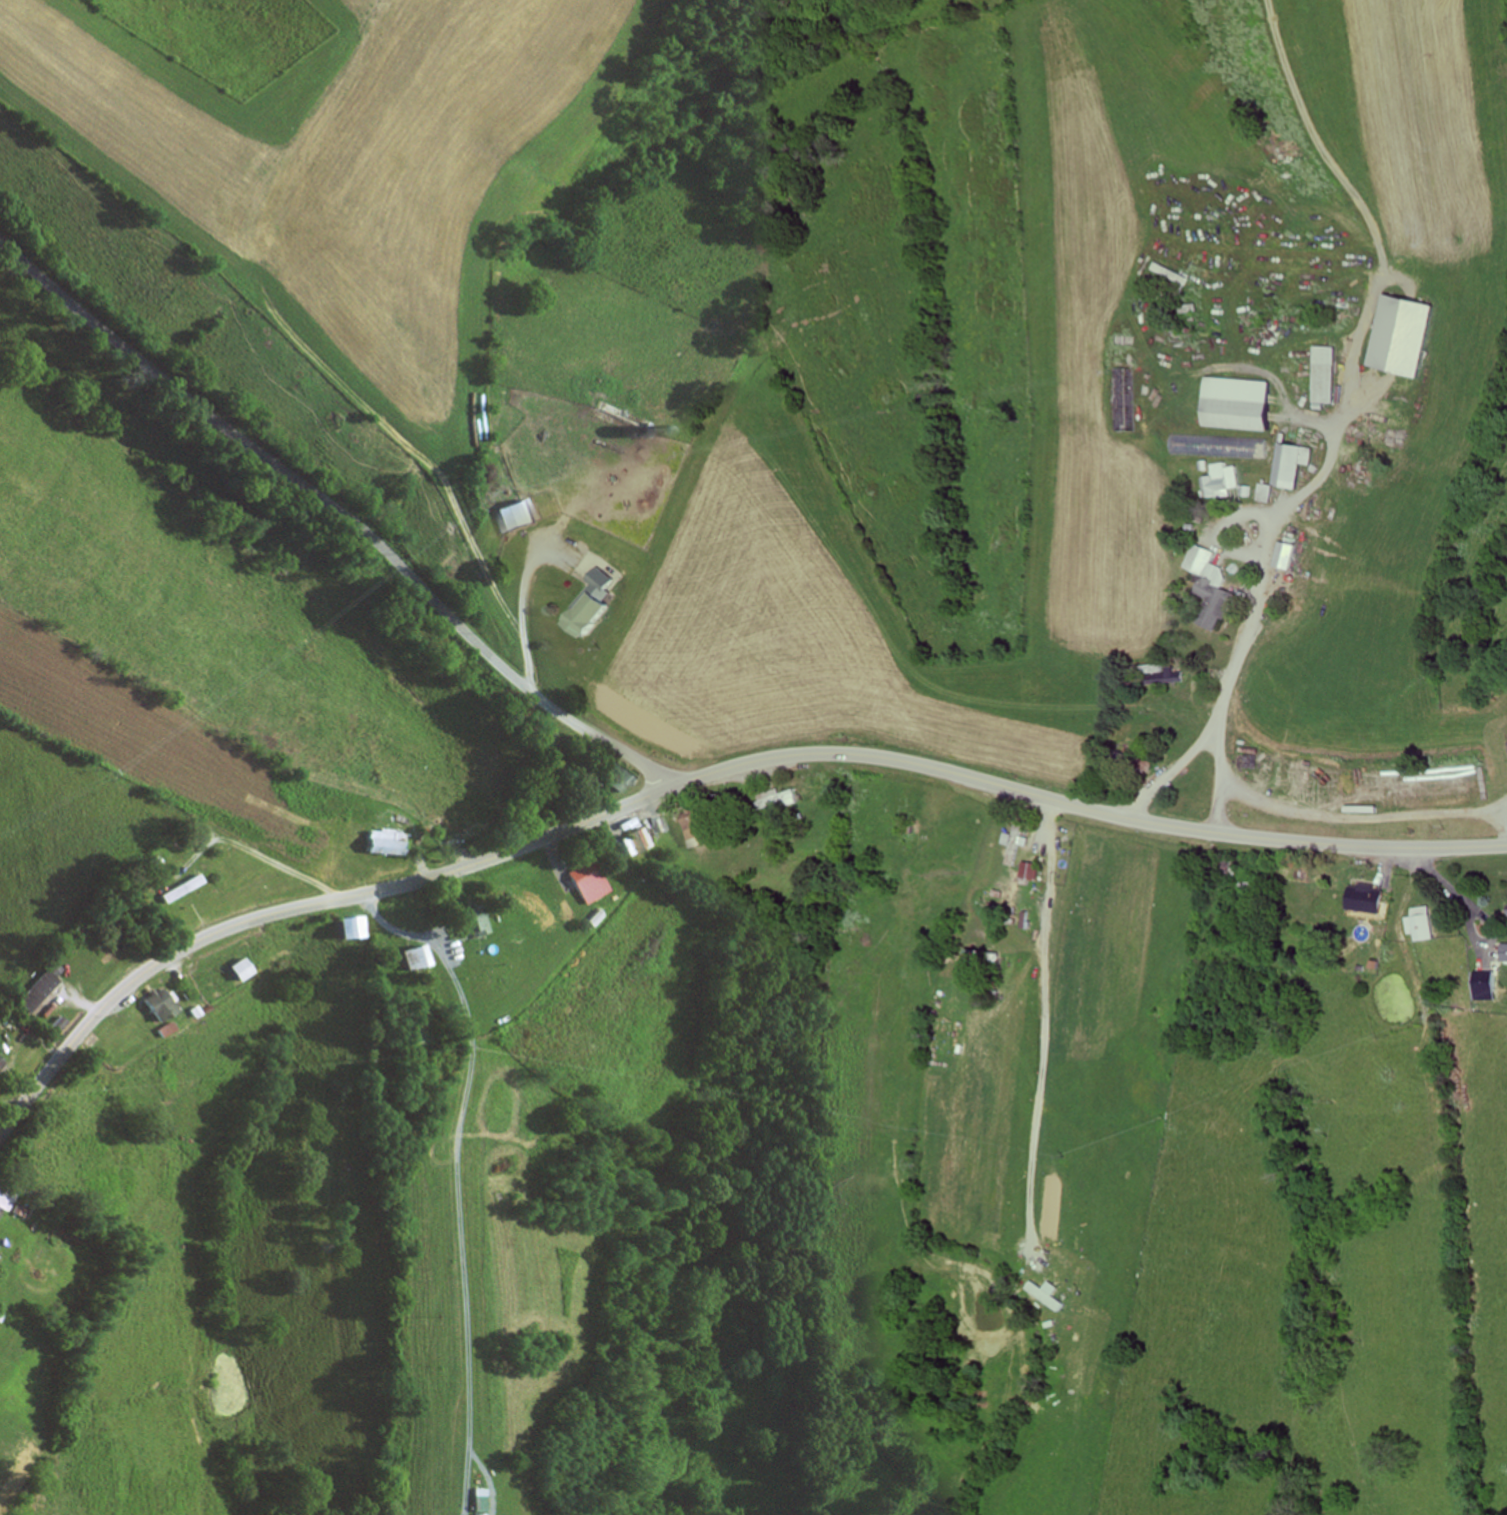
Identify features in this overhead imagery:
road: (280, 292)
building: (1333, 374)
road: (934, 380)
building: (1130, 391)
building: (1248, 403)
building: (1222, 447)
building: (1298, 464)
building: (1228, 480)
building: (1270, 493)
road: (341, 512)
building: (520, 516)
road: (1262, 520)
building: (1291, 555)
building: (1211, 589)
building: (592, 605)
road: (1226, 695)
building: (1123, 757)
road: (705, 777)
building: (623, 780)
building: (781, 799)
building: (385, 842)
building: (1017, 845)
building: (1033, 872)
building: (592, 881)
building: (1251, 886)
building: (191, 893)
building: (1372, 898)
building: (477, 923)
building: (1426, 924)
building: (357, 928)
building: (144, 932)
building: (1502, 953)
building: (417, 959)
building: (984, 963)
building: (250, 969)
building: (41, 992)
building: (166, 1005)
building: (170, 1030)
building: (2, 1065)
building: (6, 1202)

